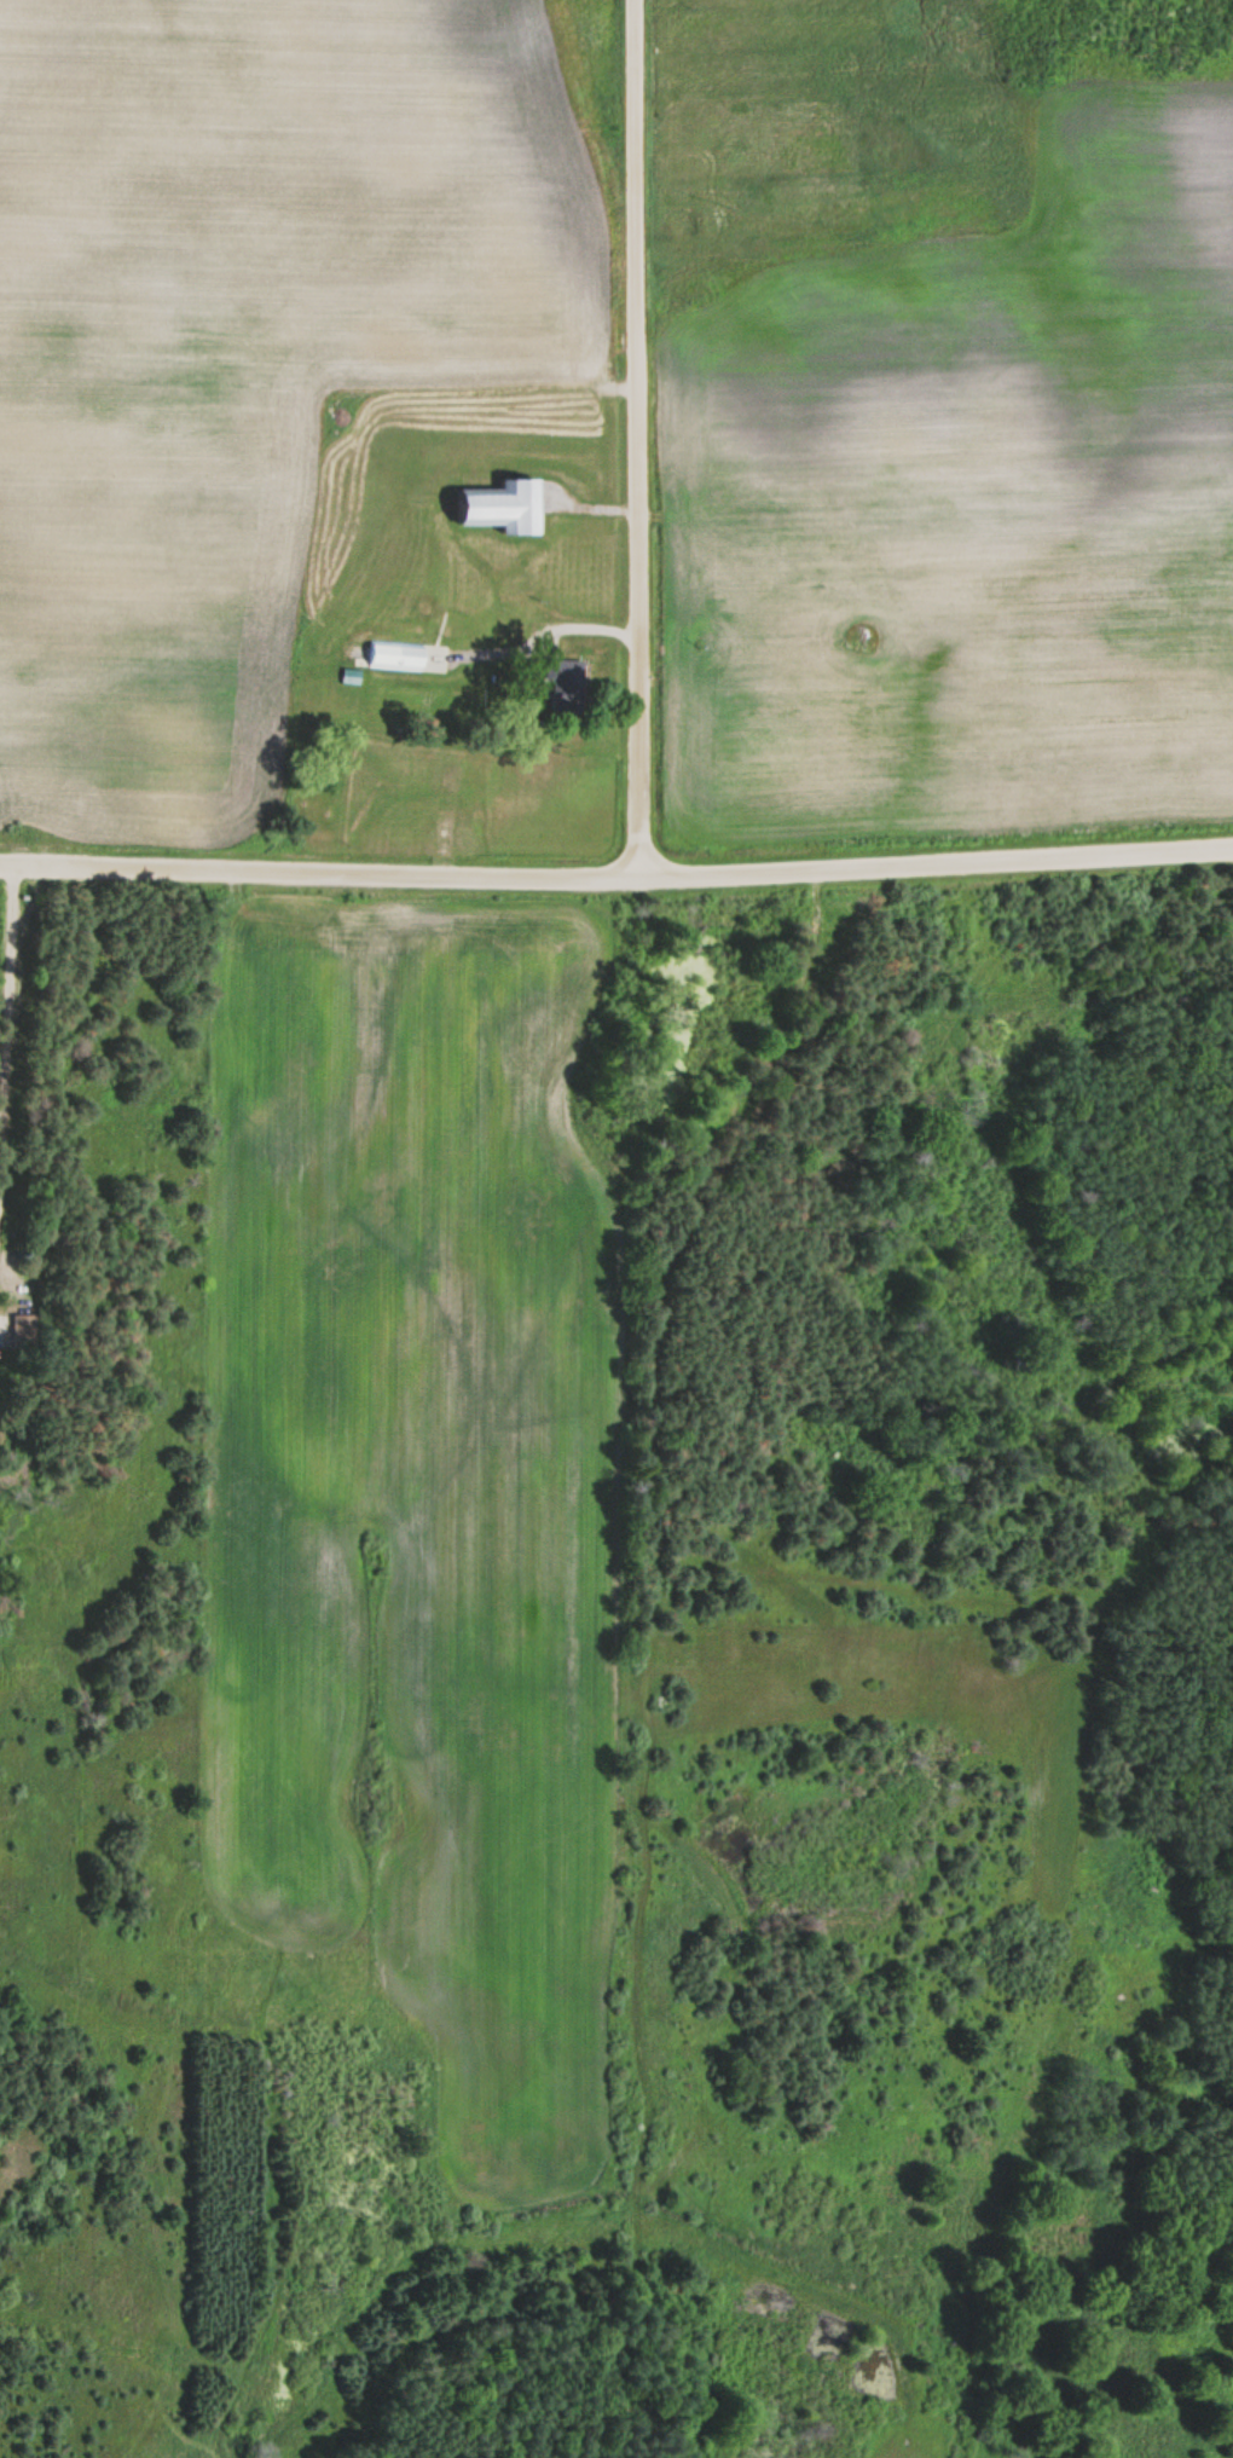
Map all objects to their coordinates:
road: (631, 439)
building: (503, 508)
building: (394, 657)
building: (566, 687)
road: (616, 878)
road: (4, 952)

